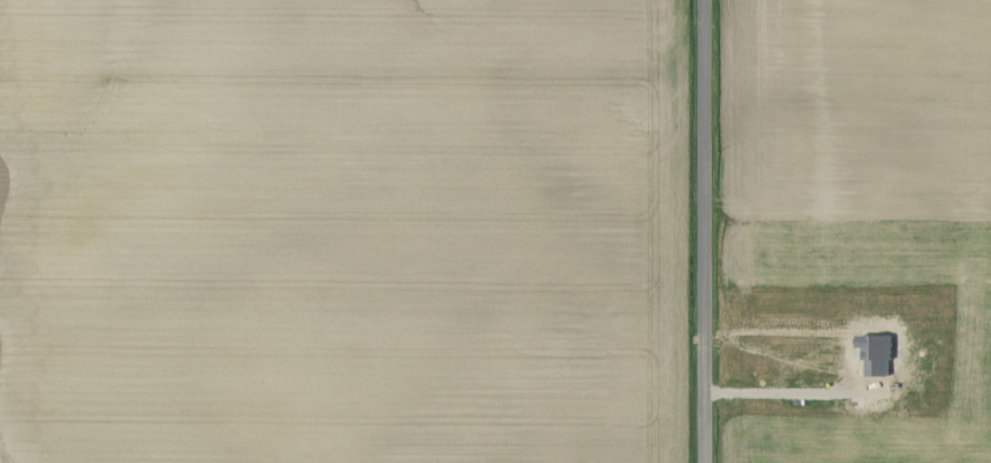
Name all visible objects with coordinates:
road: (707, 231)
building: (878, 353)
road: (792, 391)

